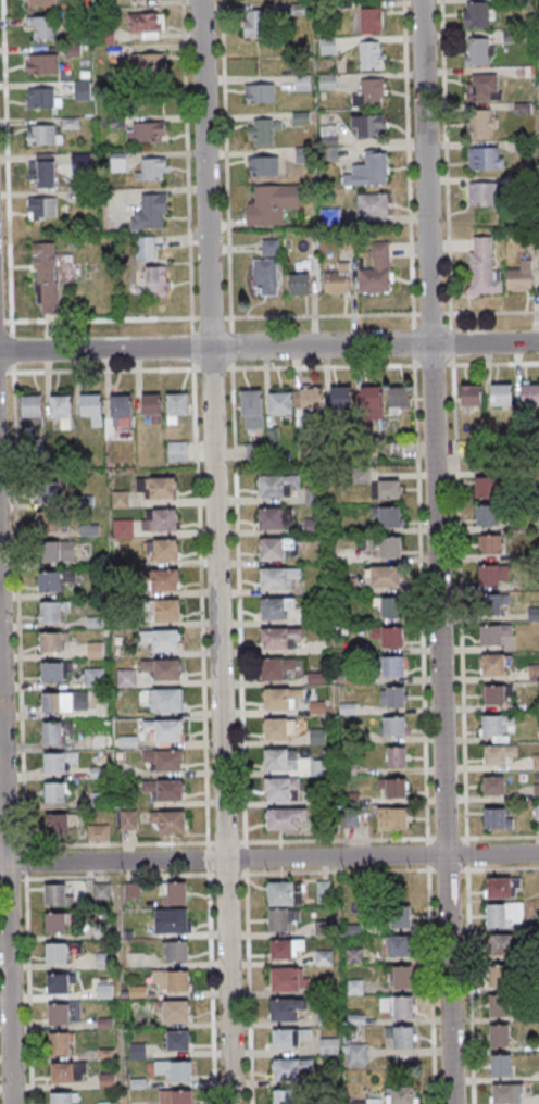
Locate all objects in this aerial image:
building: (40, 3)
building: (476, 15)
building: (371, 20)
building: (259, 23)
building: (147, 24)
building: (42, 27)
building: (479, 51)
building: (371, 54)
building: (42, 63)
building: (149, 65)
building: (485, 86)
building: (83, 90)
building: (260, 92)
building: (371, 92)
building: (43, 97)
building: (481, 123)
building: (368, 125)
building: (146, 130)
building: (262, 130)
building: (45, 135)
building: (485, 158)
building: (263, 165)
building: (153, 170)
building: (40, 171)
building: (369, 171)
building: (482, 193)
building: (273, 204)
building: (373, 205)
building: (41, 208)
building: (151, 212)
building: (145, 248)
building: (268, 267)
building: (484, 268)
building: (377, 269)
building: (521, 277)
building: (47, 278)
building: (338, 279)
building: (156, 281)
building: (299, 284)
road: (269, 347)
building: (530, 393)
building: (501, 394)
building: (472, 396)
building: (341, 398)
building: (371, 398)
building: (398, 399)
building: (281, 403)
building: (308, 404)
building: (90, 406)
building: (152, 406)
building: (176, 406)
building: (33, 409)
building: (121, 410)
building: (252, 410)
building: (62, 412)
building: (177, 450)
building: (255, 451)
building: (51, 482)
building: (278, 485)
building: (156, 488)
building: (386, 488)
building: (486, 488)
building: (313, 495)
building: (387, 515)
building: (486, 516)
building: (275, 517)
building: (162, 520)
building: (49, 522)
building: (124, 528)
building: (490, 544)
building: (387, 545)
building: (276, 547)
building: (163, 550)
road: (216, 551)
road: (436, 551)
building: (57, 552)
building: (68, 575)
building: (493, 575)
building: (278, 577)
building: (385, 577)
building: (165, 579)
building: (50, 581)
building: (491, 604)
building: (275, 607)
building: (390, 607)
building: (163, 610)
building: (52, 611)
building: (491, 636)
building: (389, 637)
building: (279, 638)
building: (52, 641)
building: (161, 641)
building: (95, 650)
building: (494, 665)
building: (392, 667)
building: (160, 669)
building: (272, 669)
building: (53, 670)
building: (535, 673)
building: (95, 675)
building: (126, 679)
building: (494, 694)
building: (392, 698)
building: (280, 699)
building: (166, 700)
building: (64, 702)
building: (394, 726)
building: (497, 726)
building: (164, 729)
building: (279, 730)
building: (55, 731)
building: (498, 753)
building: (397, 757)
building: (163, 760)
building: (280, 760)
building: (59, 761)
building: (493, 785)
building: (394, 788)
building: (164, 789)
building: (281, 790)
building: (58, 792)
building: (393, 818)
building: (498, 818)
building: (128, 819)
building: (285, 819)
building: (170, 820)
building: (60, 824)
building: (98, 832)
road: (268, 858)
road: (5, 885)
building: (501, 887)
building: (324, 890)
building: (101, 891)
building: (174, 892)
building: (284, 892)
building: (55, 894)
building: (504, 914)
building: (399, 915)
building: (281, 919)
building: (171, 920)
building: (55, 921)
building: (399, 945)
building: (286, 948)
building: (504, 949)
building: (176, 951)
building: (57, 952)
building: (354, 956)
building: (324, 957)
building: (104, 961)
building: (401, 976)
building: (500, 978)
building: (289, 979)
building: (171, 981)
building: (60, 982)
building: (355, 987)
building: (500, 1005)
building: (401, 1006)
building: (285, 1008)
building: (173, 1011)
building: (64, 1013)
building: (324, 1018)
building: (502, 1034)
building: (401, 1036)
building: (289, 1038)
building: (177, 1040)
building: (60, 1043)
building: (329, 1045)
building: (355, 1054)
building: (501, 1065)
building: (290, 1068)
building: (176, 1069)
building: (65, 1070)
building: (509, 1093)
building: (401, 1095)
building: (175, 1096)
building: (286, 1096)
building: (63, 1097)
building: (365, 1101)
building: (106, 1103)

